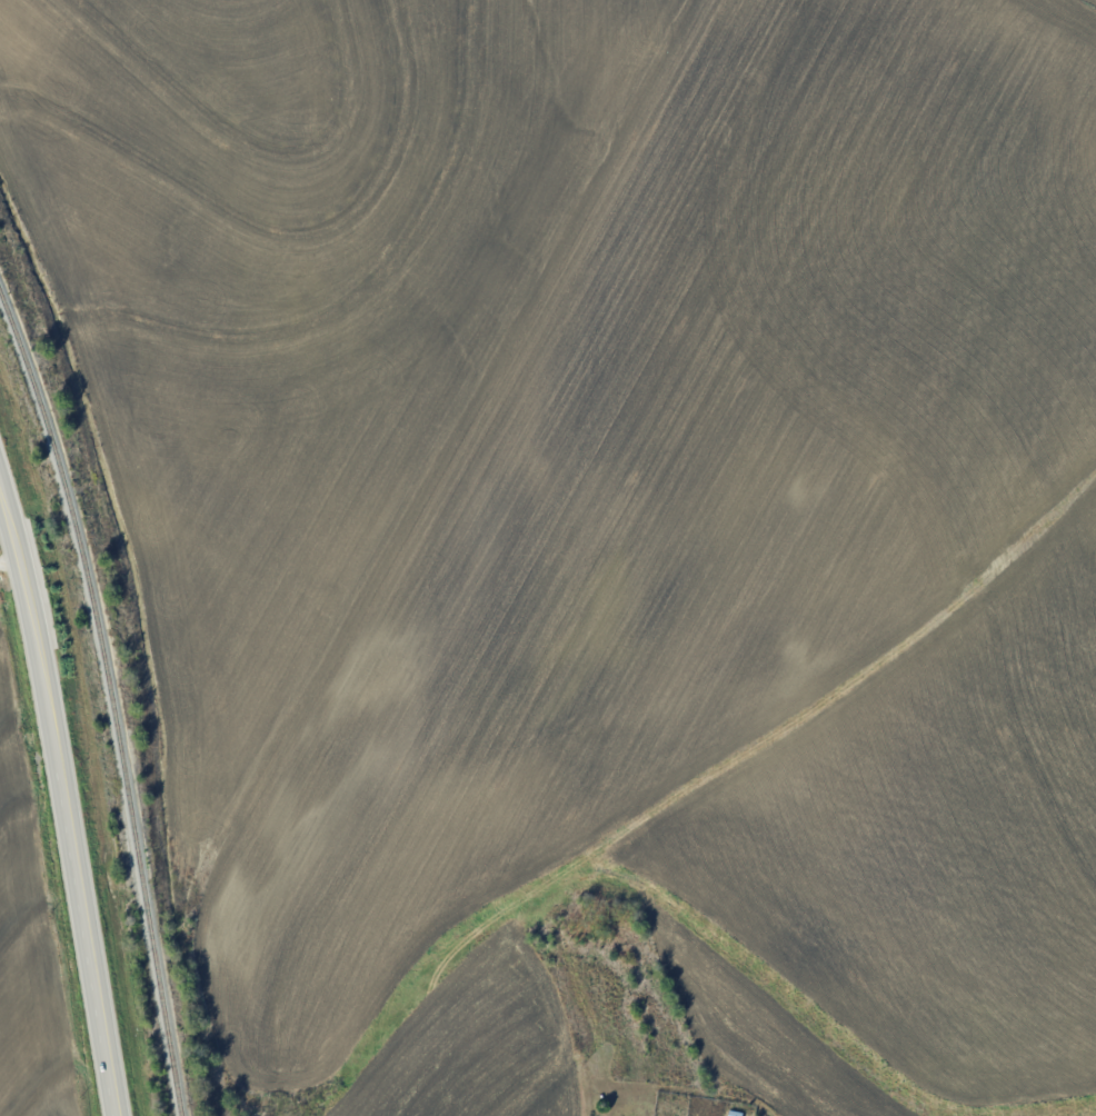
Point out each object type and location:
road: (8, 556)
railway: (109, 699)
road: (63, 795)

